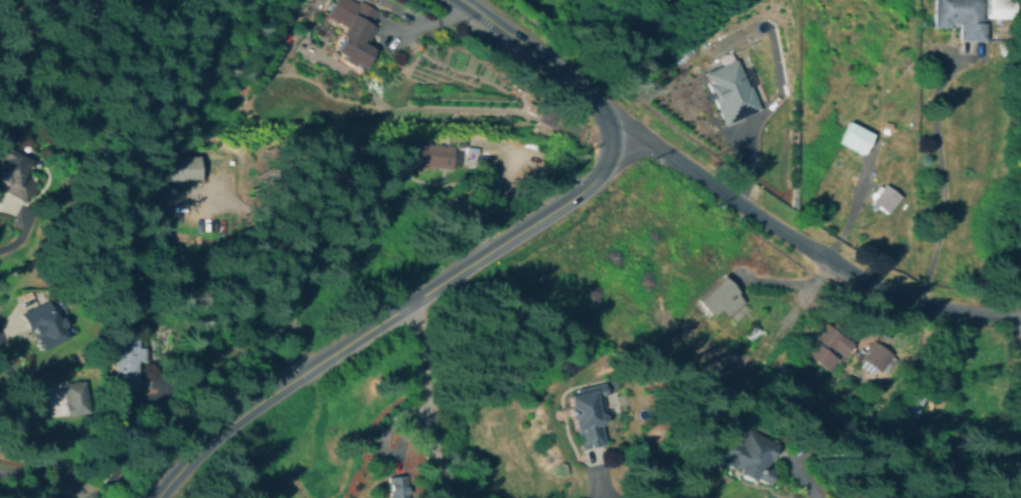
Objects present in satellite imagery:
building: (1005, 8)
building: (960, 17)
building: (352, 32)
road: (523, 44)
building: (1005, 49)
building: (729, 92)
road: (756, 118)
building: (855, 138)
road: (610, 139)
building: (457, 140)
building: (427, 152)
building: (176, 169)
building: (13, 171)
road: (941, 178)
building: (885, 199)
road: (11, 245)
road: (806, 247)
road: (274, 276)
building: (718, 297)
building: (42, 325)
road: (3, 327)
road: (361, 333)
building: (825, 345)
building: (877, 357)
building: (126, 363)
building: (73, 398)
road: (424, 400)
building: (906, 408)
building: (580, 414)
building: (741, 456)
road: (43, 481)
road: (801, 484)
road: (587, 485)
building: (397, 487)
building: (294, 490)

